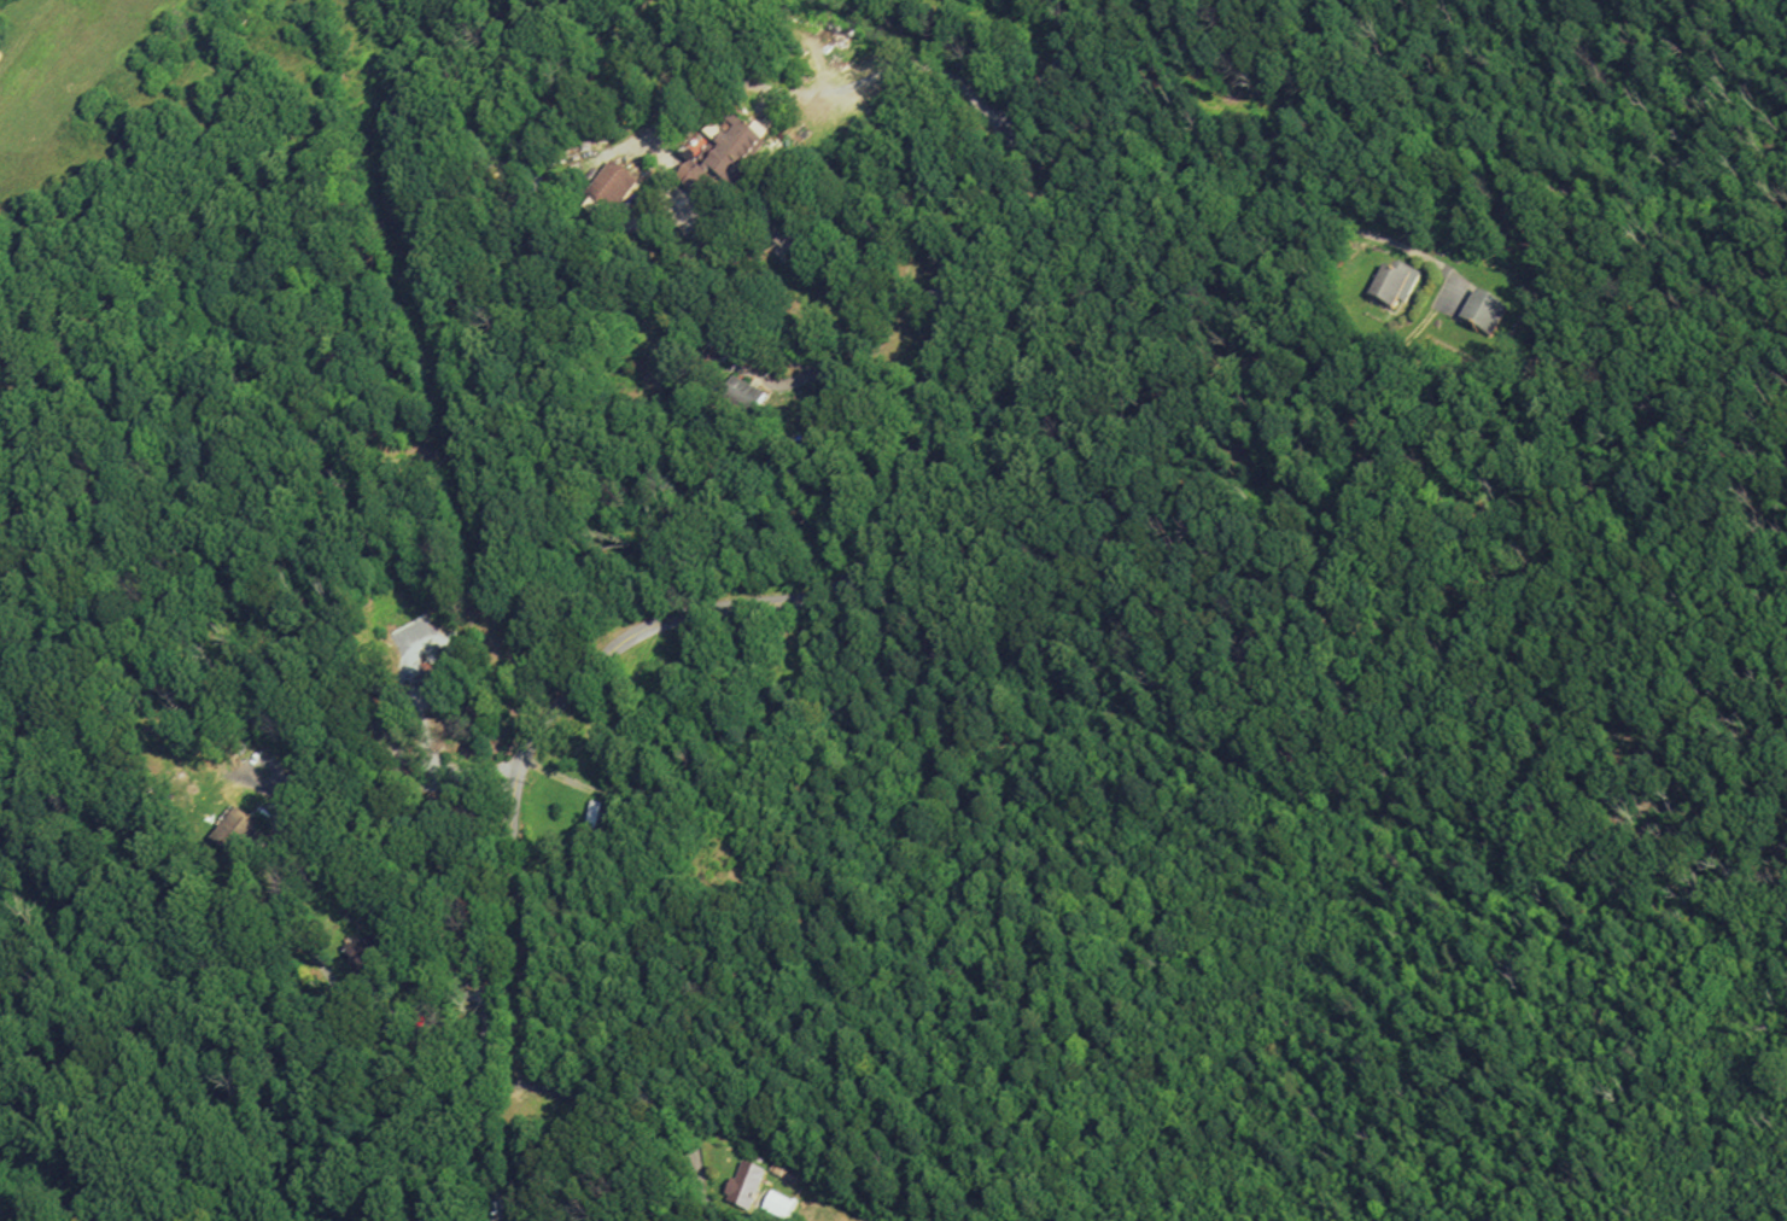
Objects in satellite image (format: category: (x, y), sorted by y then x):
road: (666, 119)
building: (717, 162)
building: (611, 187)
road: (1232, 224)
building: (1396, 285)
building: (1484, 310)
building: (741, 354)
building: (713, 357)
road: (845, 373)
building: (740, 397)
road: (749, 607)
building: (433, 676)
road: (245, 714)
road: (426, 754)
road: (556, 776)
building: (592, 822)
building: (235, 836)
building: (366, 952)
road: (326, 975)
road: (637, 1118)
building: (744, 1188)
building: (778, 1207)

